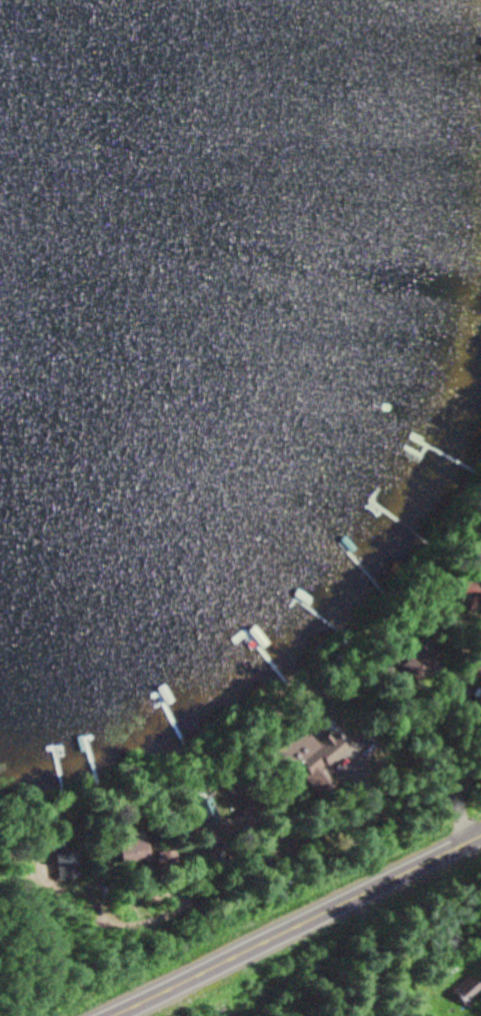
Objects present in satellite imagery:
road: (370, 641)
building: (417, 655)
building: (309, 756)
road: (286, 757)
road: (149, 774)
road: (450, 778)
building: (208, 809)
building: (66, 860)
road: (292, 924)
building: (460, 992)

